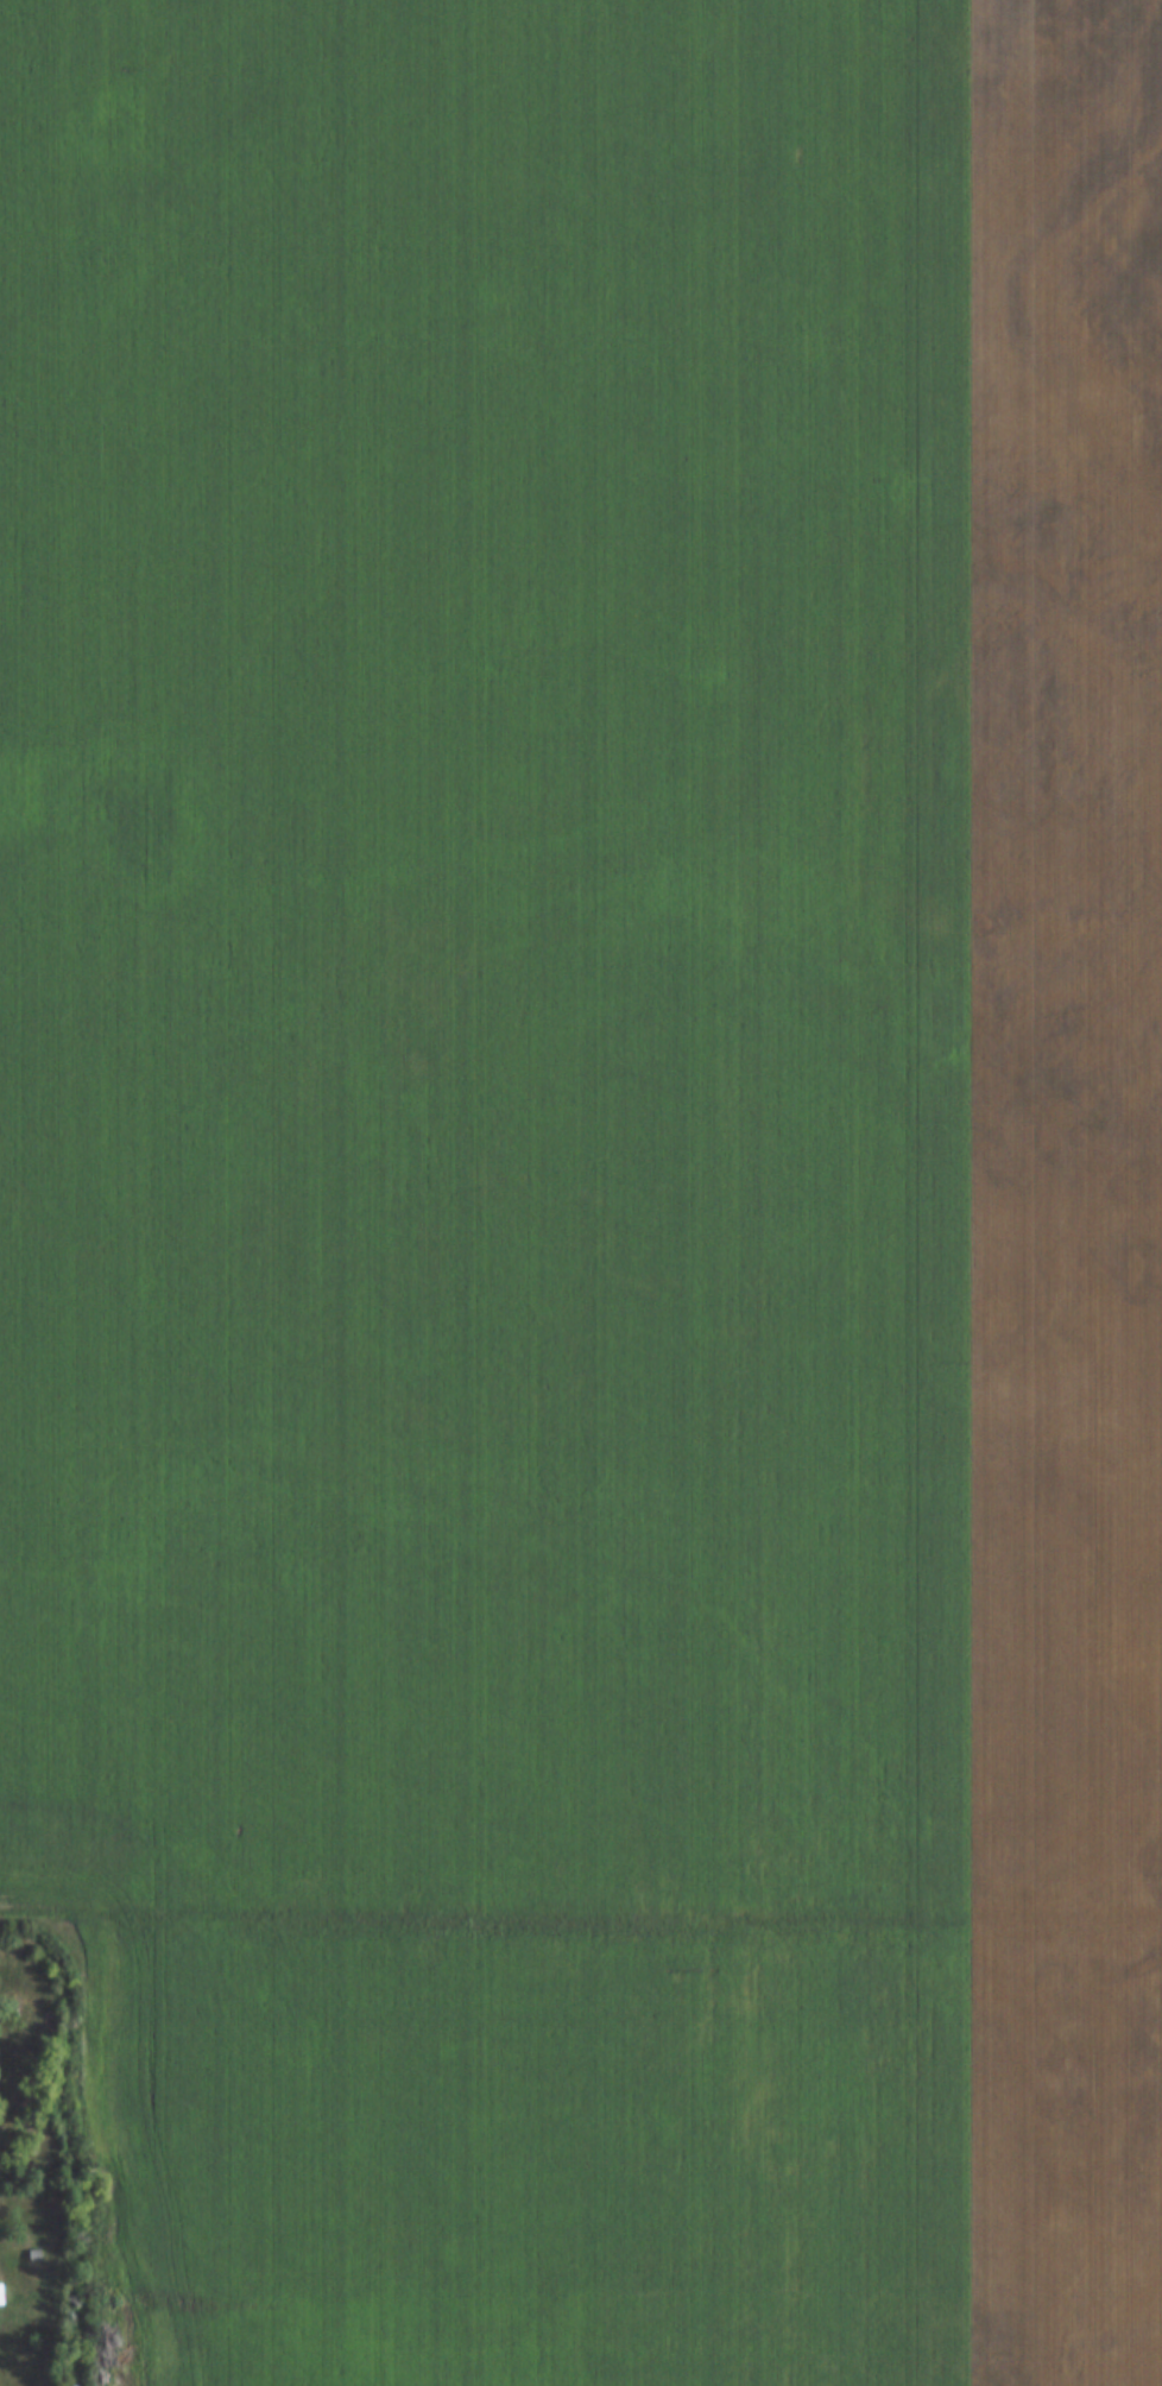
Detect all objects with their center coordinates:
road: (513, 1914)
building: (15, 2258)
building: (1, 2293)

